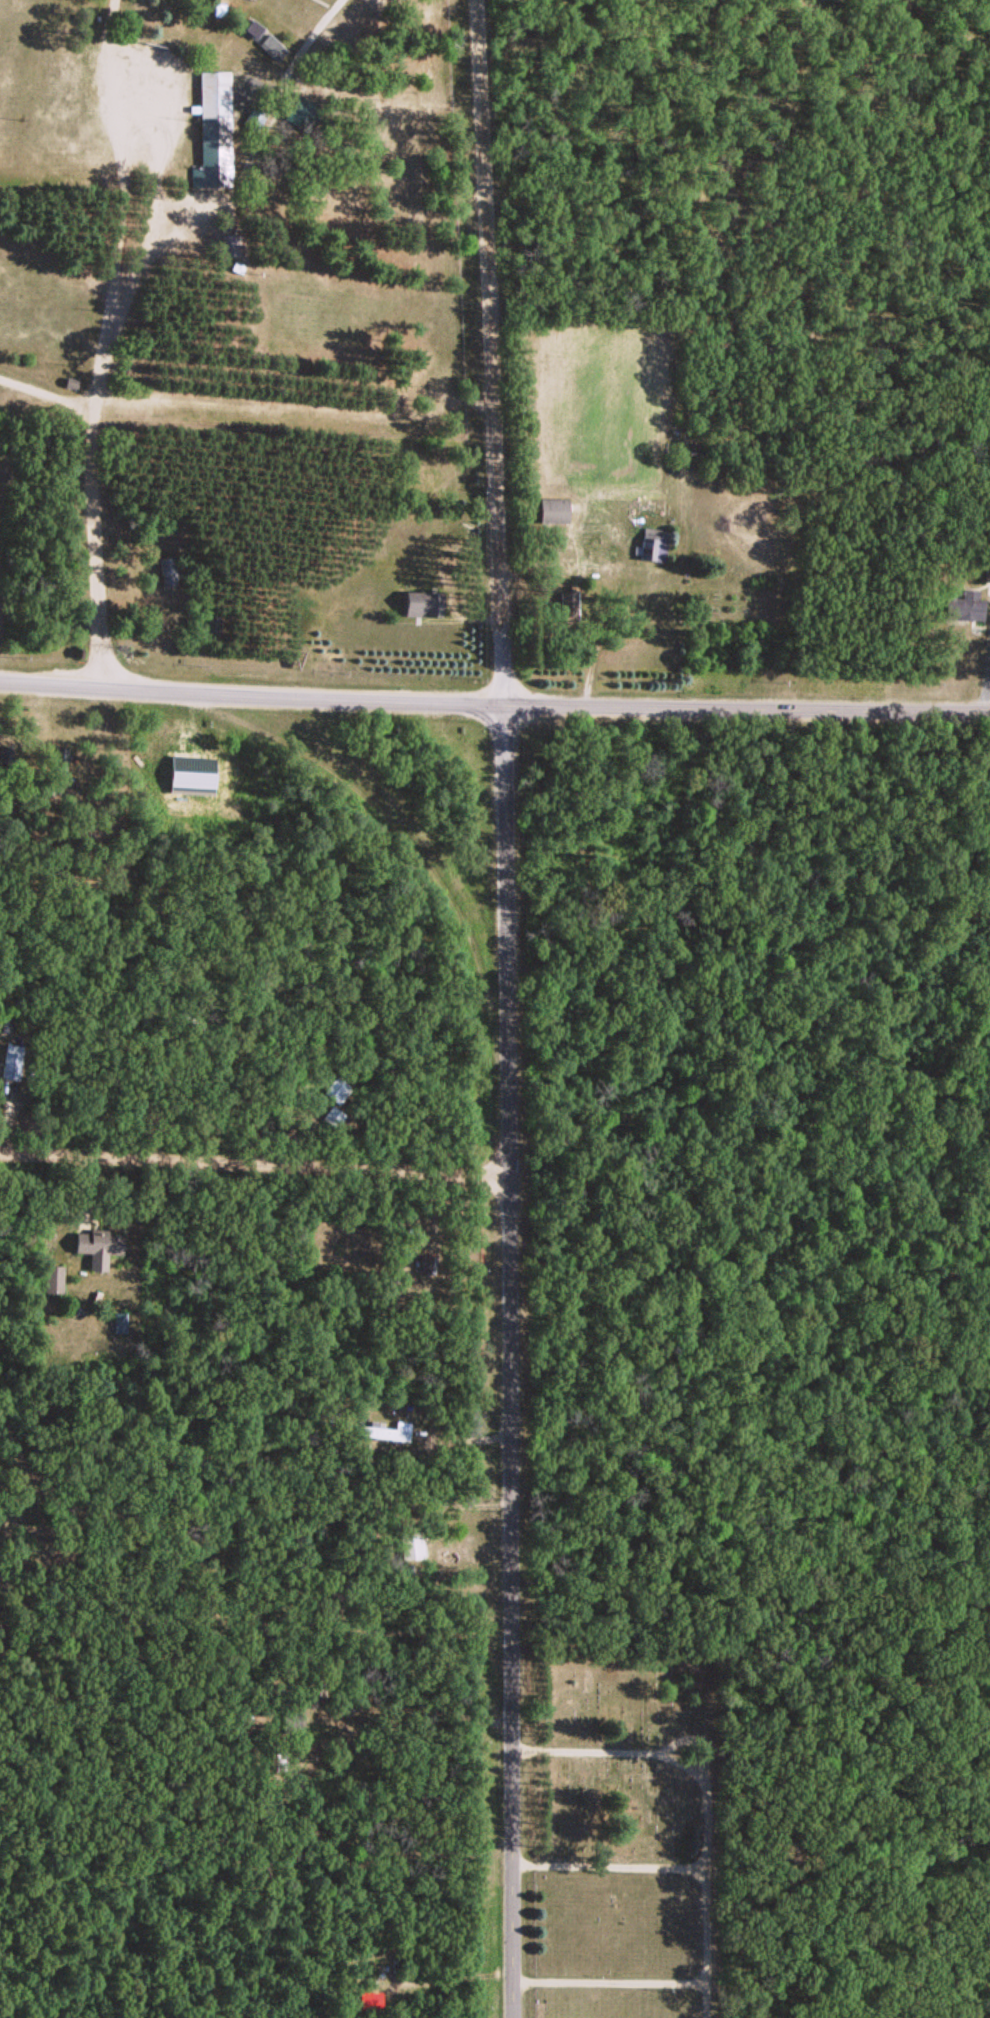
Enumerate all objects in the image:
building: (218, 8)
building: (141, 14)
road: (322, 21)
building: (251, 28)
building: (272, 46)
road: (107, 74)
building: (301, 113)
building: (254, 115)
building: (213, 128)
park: (232, 221)
road: (117, 234)
road: (142, 237)
road: (488, 353)
road: (299, 379)
building: (71, 380)
road: (43, 393)
building: (553, 508)
road: (95, 511)
building: (657, 543)
building: (168, 572)
building: (965, 602)
building: (421, 604)
building: (567, 605)
road: (252, 692)
road: (747, 708)
building: (12, 1060)
road: (187, 1063)
road: (256, 1157)
building: (98, 1241)
building: (425, 1263)
building: (53, 1278)
road: (513, 1361)
building: (385, 1431)
park: (624, 1831)

